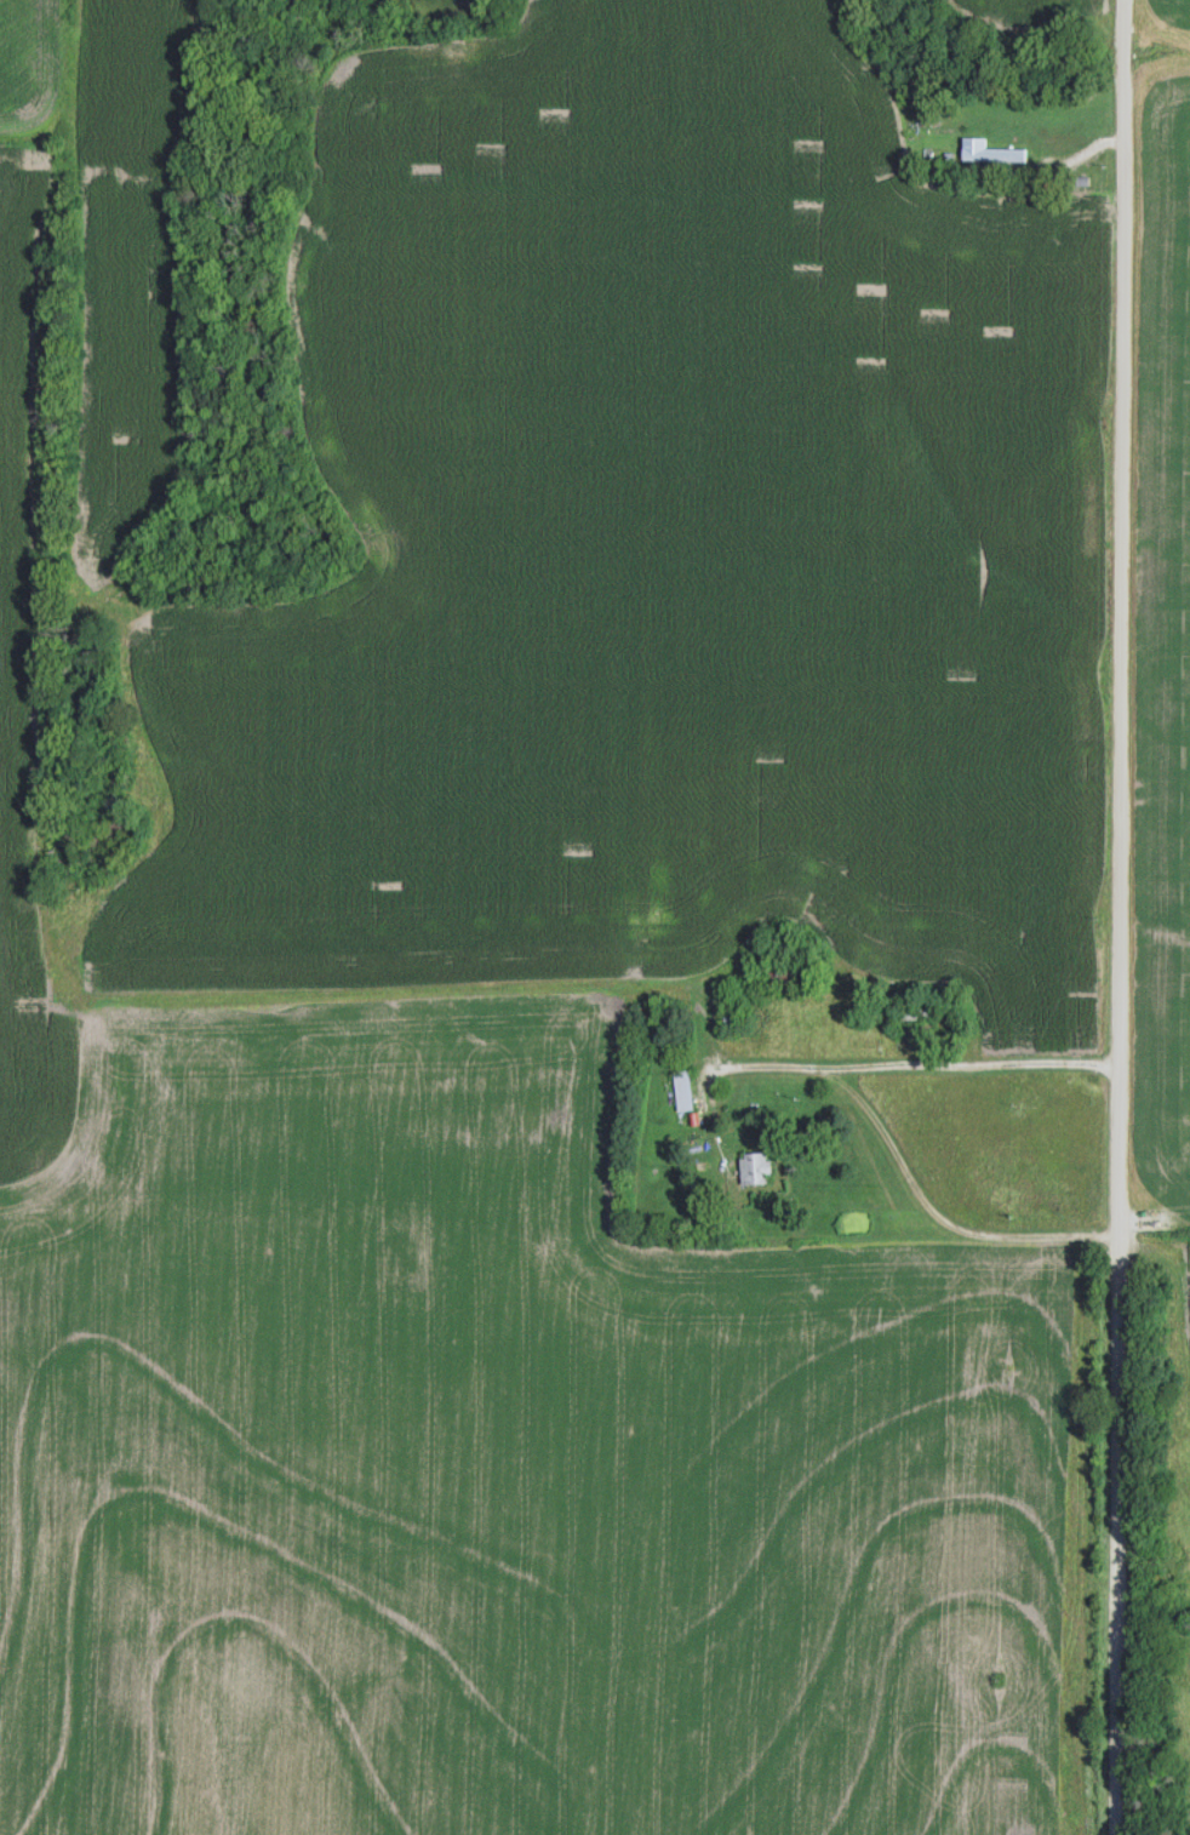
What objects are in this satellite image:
building: (992, 154)
road: (1062, 158)
road: (1121, 917)
building: (780, 974)
building: (920, 1013)
building: (683, 1090)
road: (865, 1107)
building: (754, 1168)

